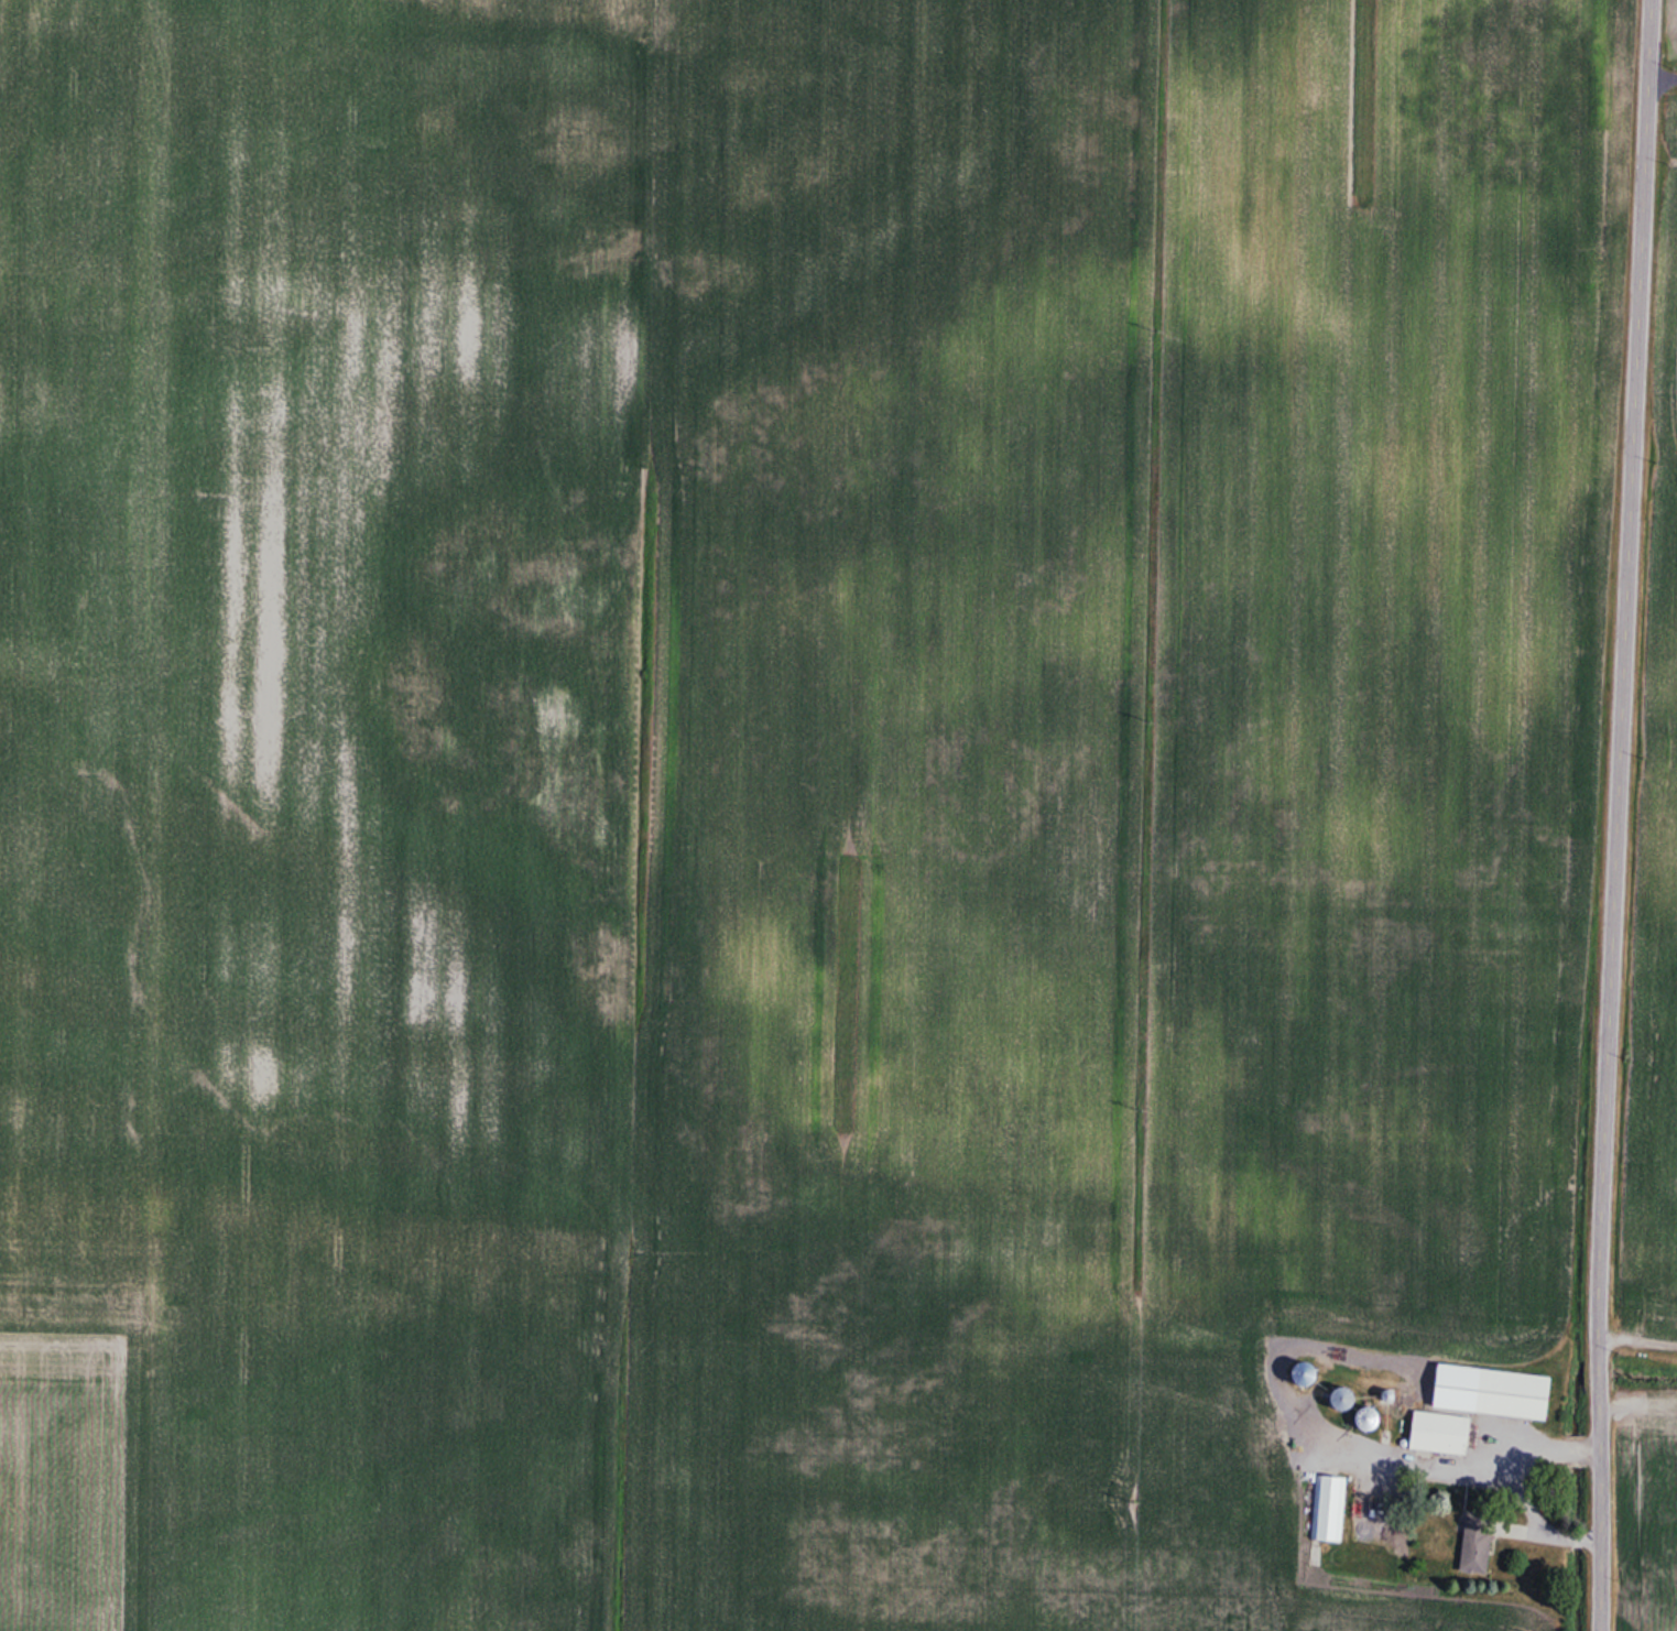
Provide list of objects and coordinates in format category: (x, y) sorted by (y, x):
road: (1663, 84)
road: (1620, 815)
building: (1515, 1394)
building: (1441, 1432)
building: (1327, 1507)
building: (1477, 1541)

